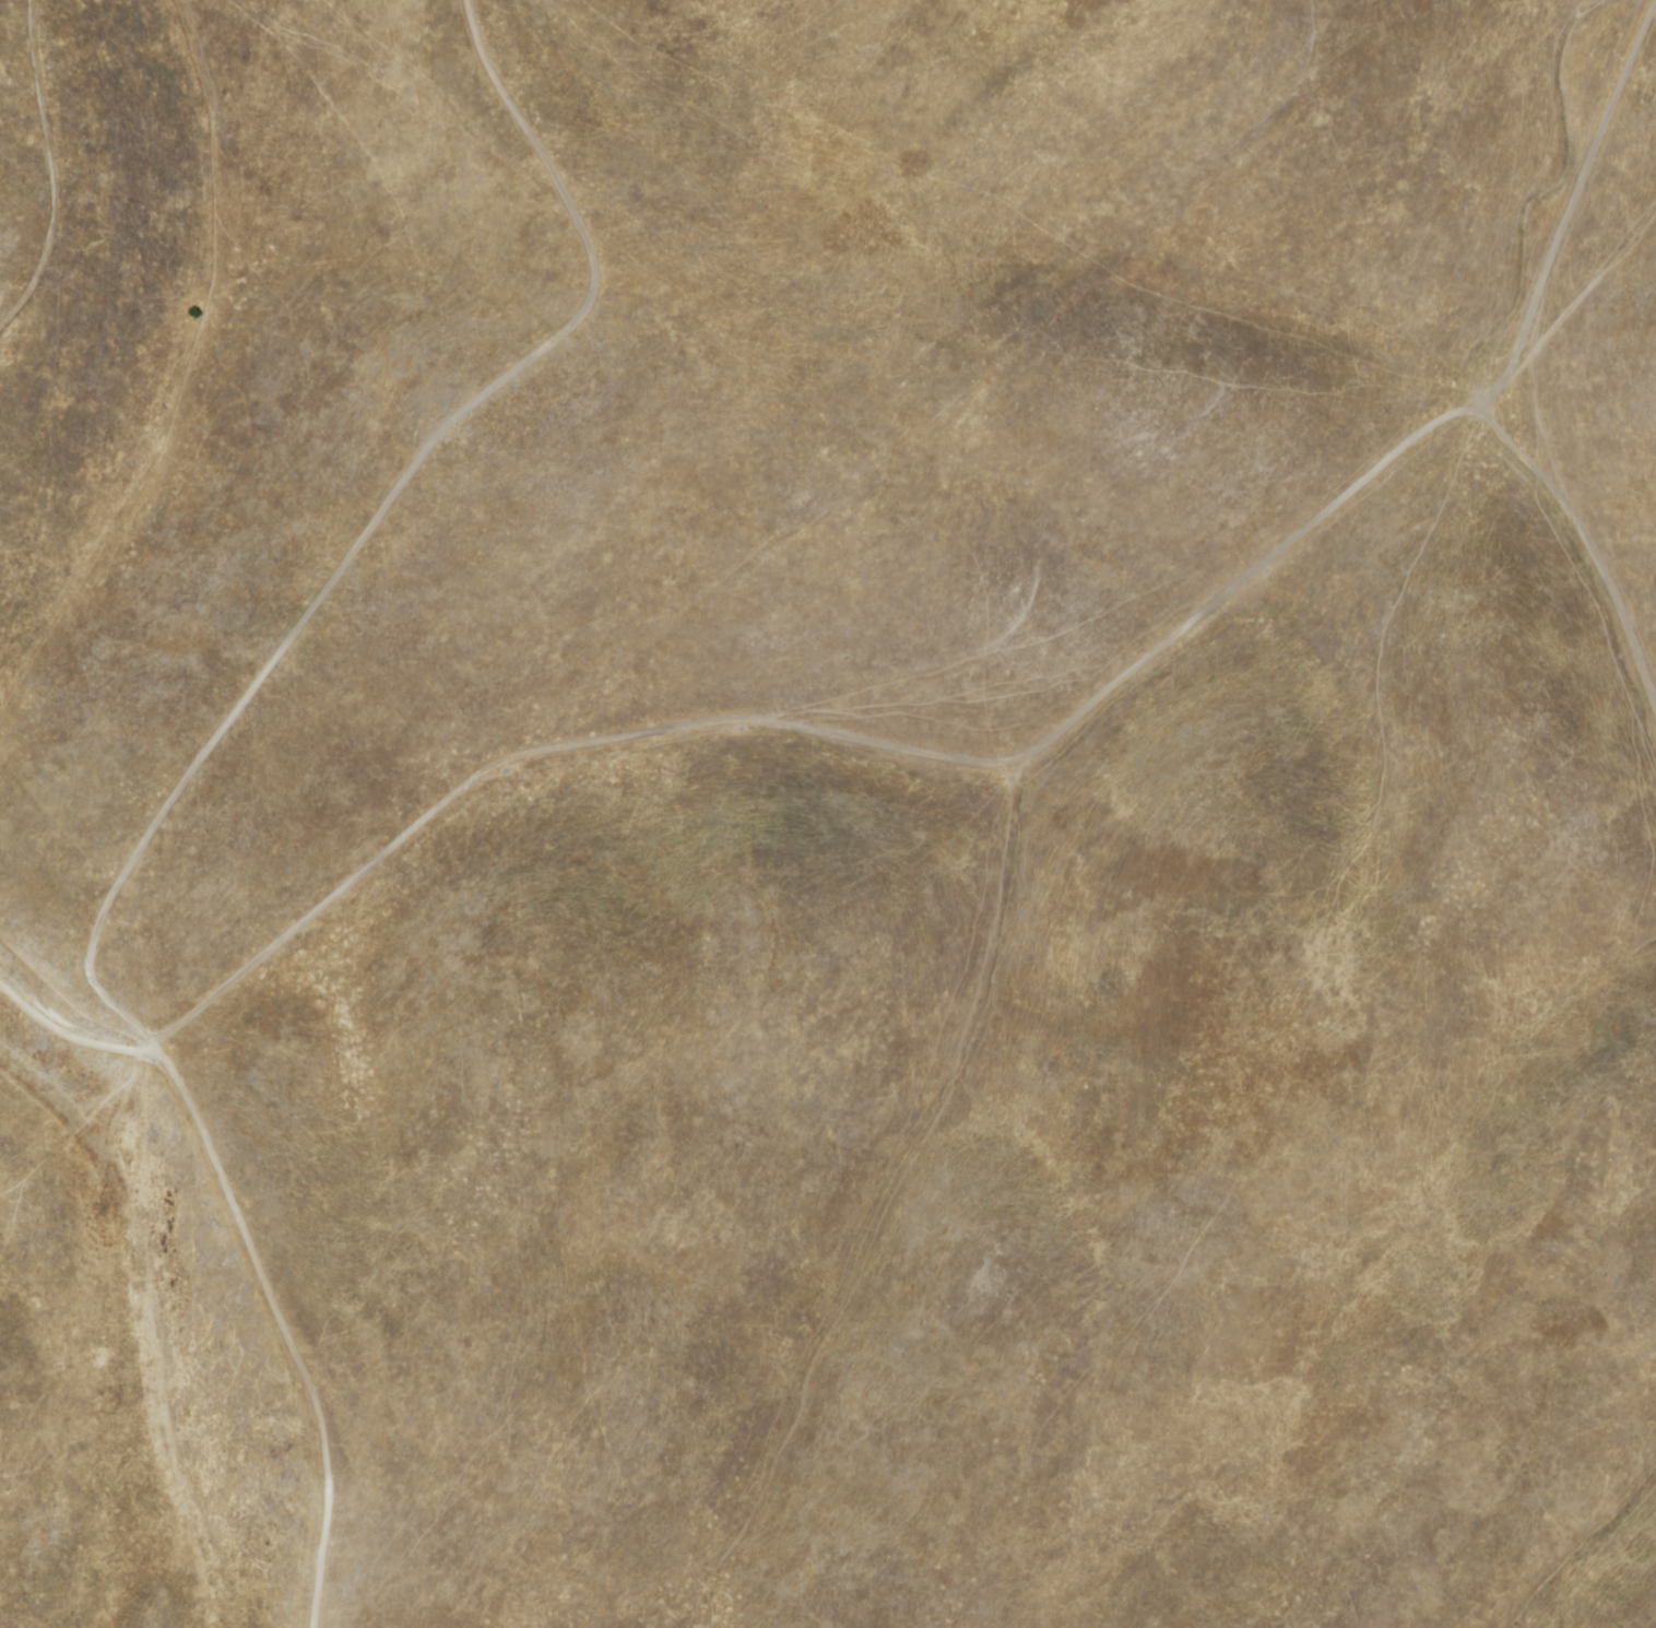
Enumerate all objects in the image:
road: (54, 173)
road: (1593, 551)
road: (960, 757)
road: (196, 772)

